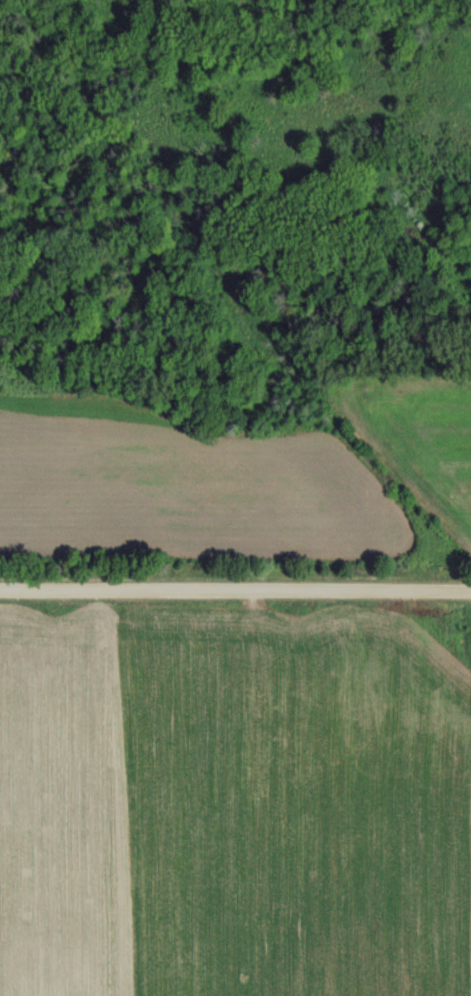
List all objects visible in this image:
road: (235, 589)

